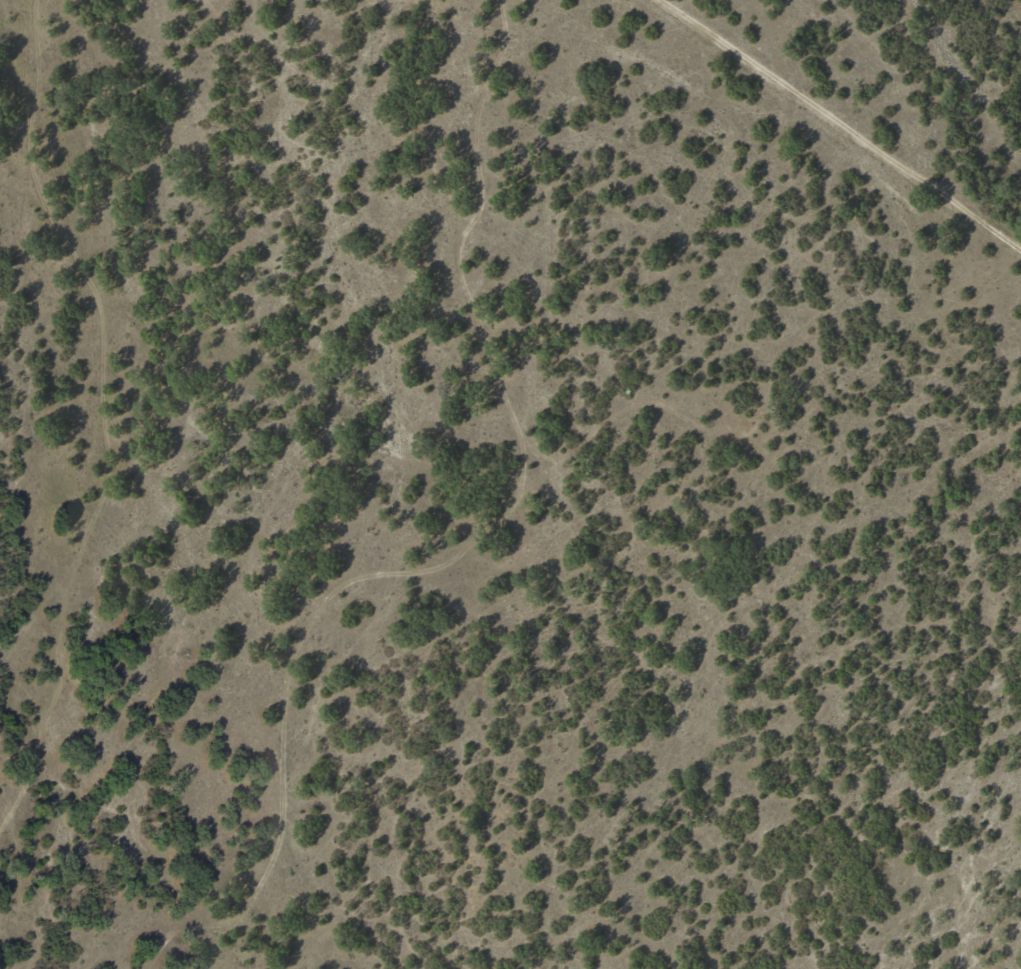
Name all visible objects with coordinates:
road: (862, 105)
road: (515, 528)

